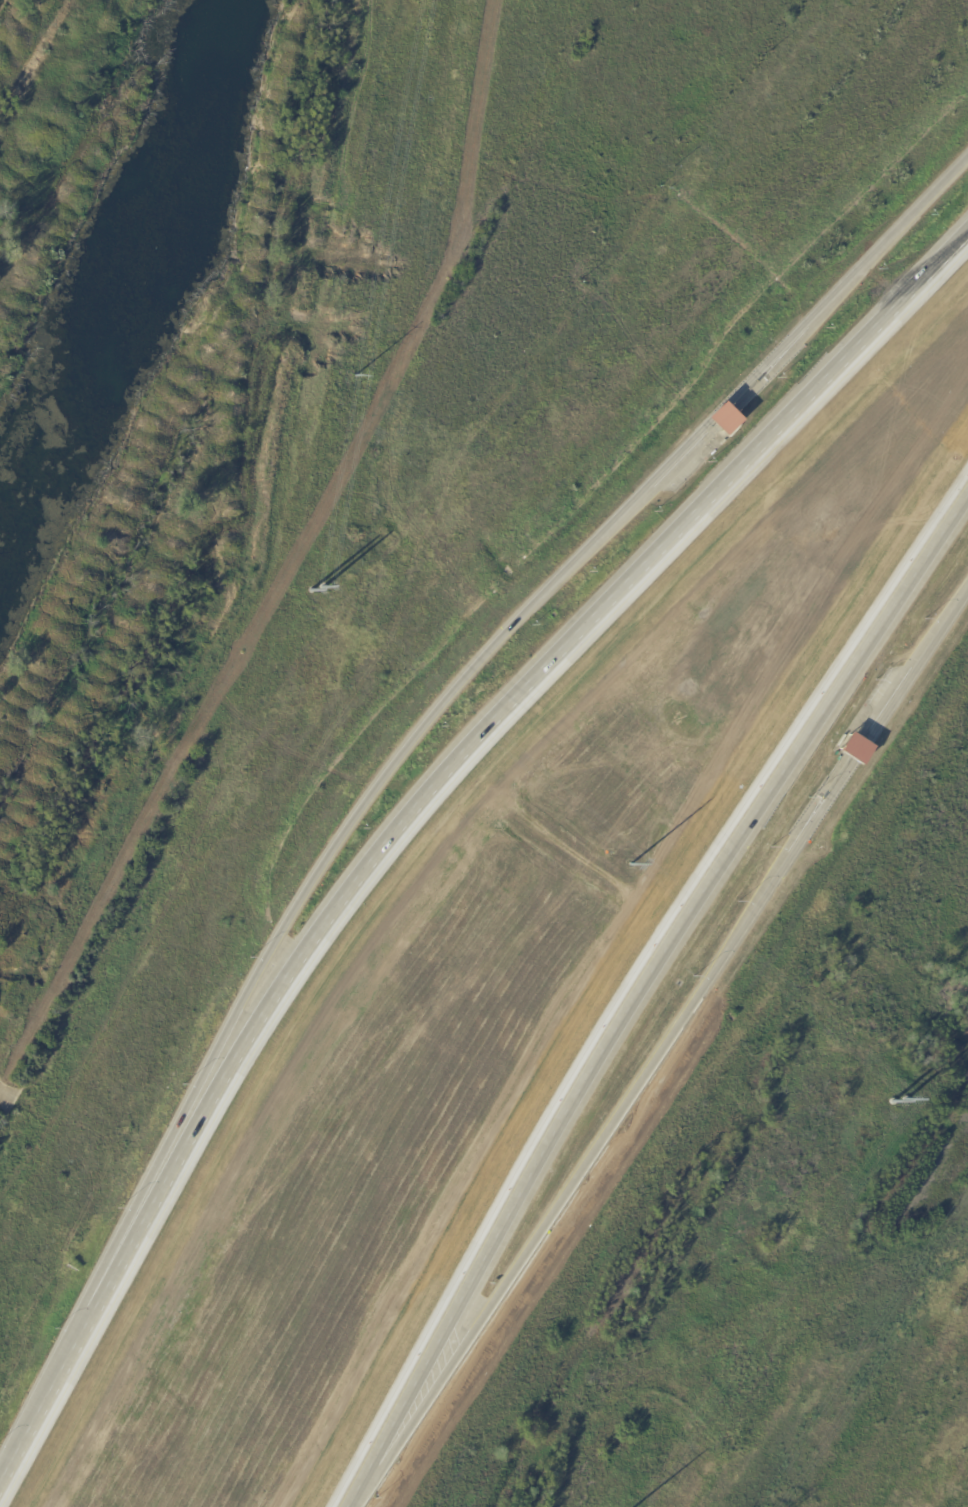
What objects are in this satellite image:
road: (847, 279)
power tower: (353, 382)
road: (718, 413)
building: (723, 418)
road: (684, 449)
power tower: (313, 592)
road: (917, 665)
road: (525, 684)
building: (854, 748)
road: (860, 751)
road: (823, 807)
road: (364, 810)
power tower: (630, 866)
road: (641, 988)
power tower: (899, 1104)
road: (574, 1178)
road: (73, 1332)

